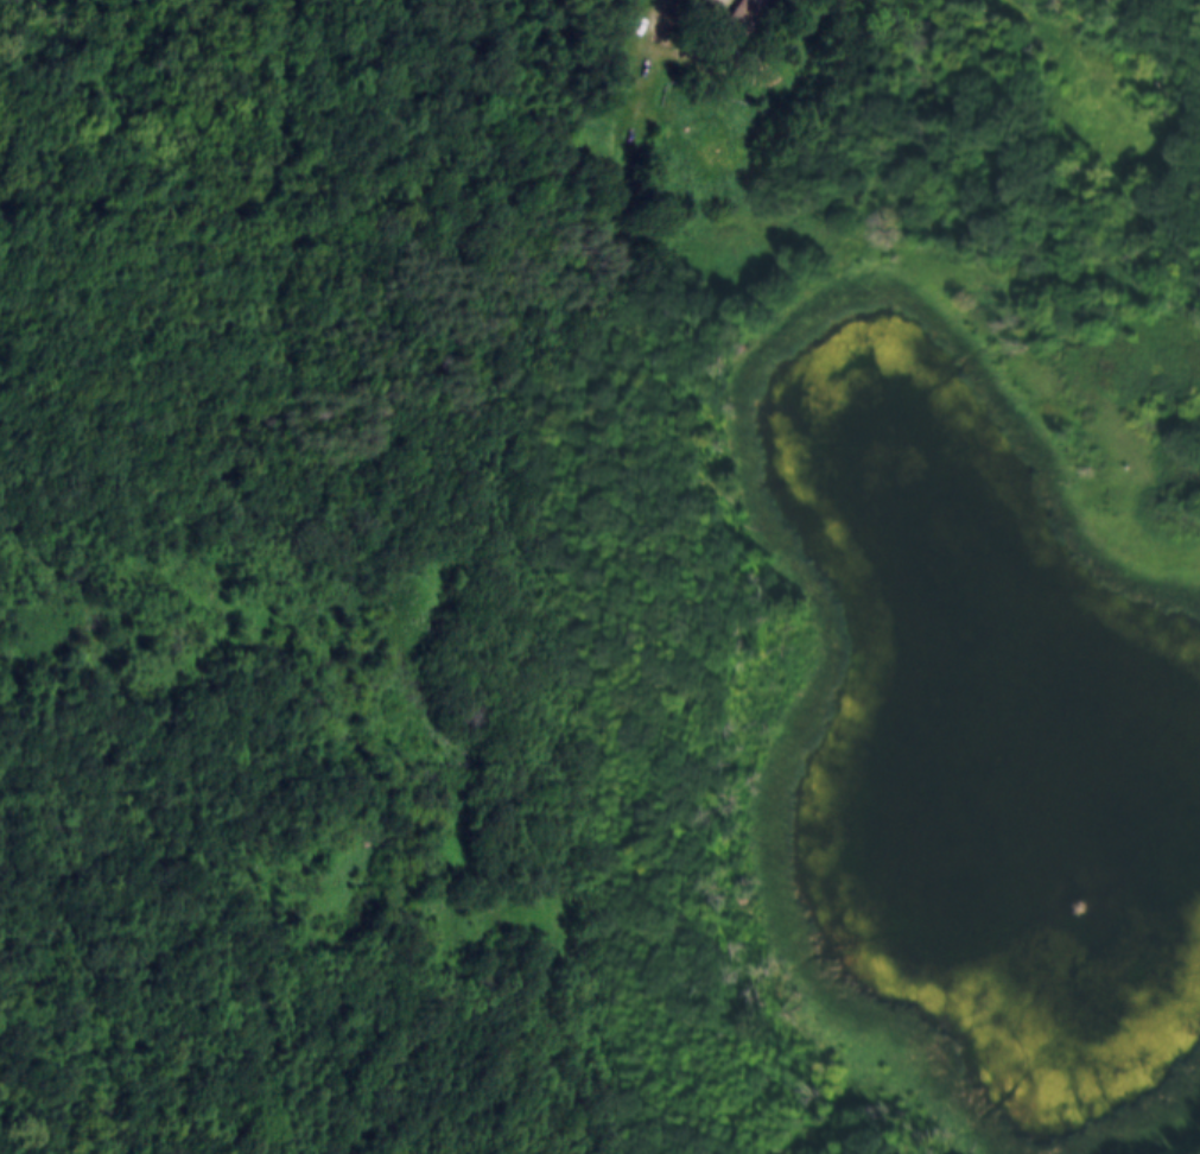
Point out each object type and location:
road: (677, 8)

